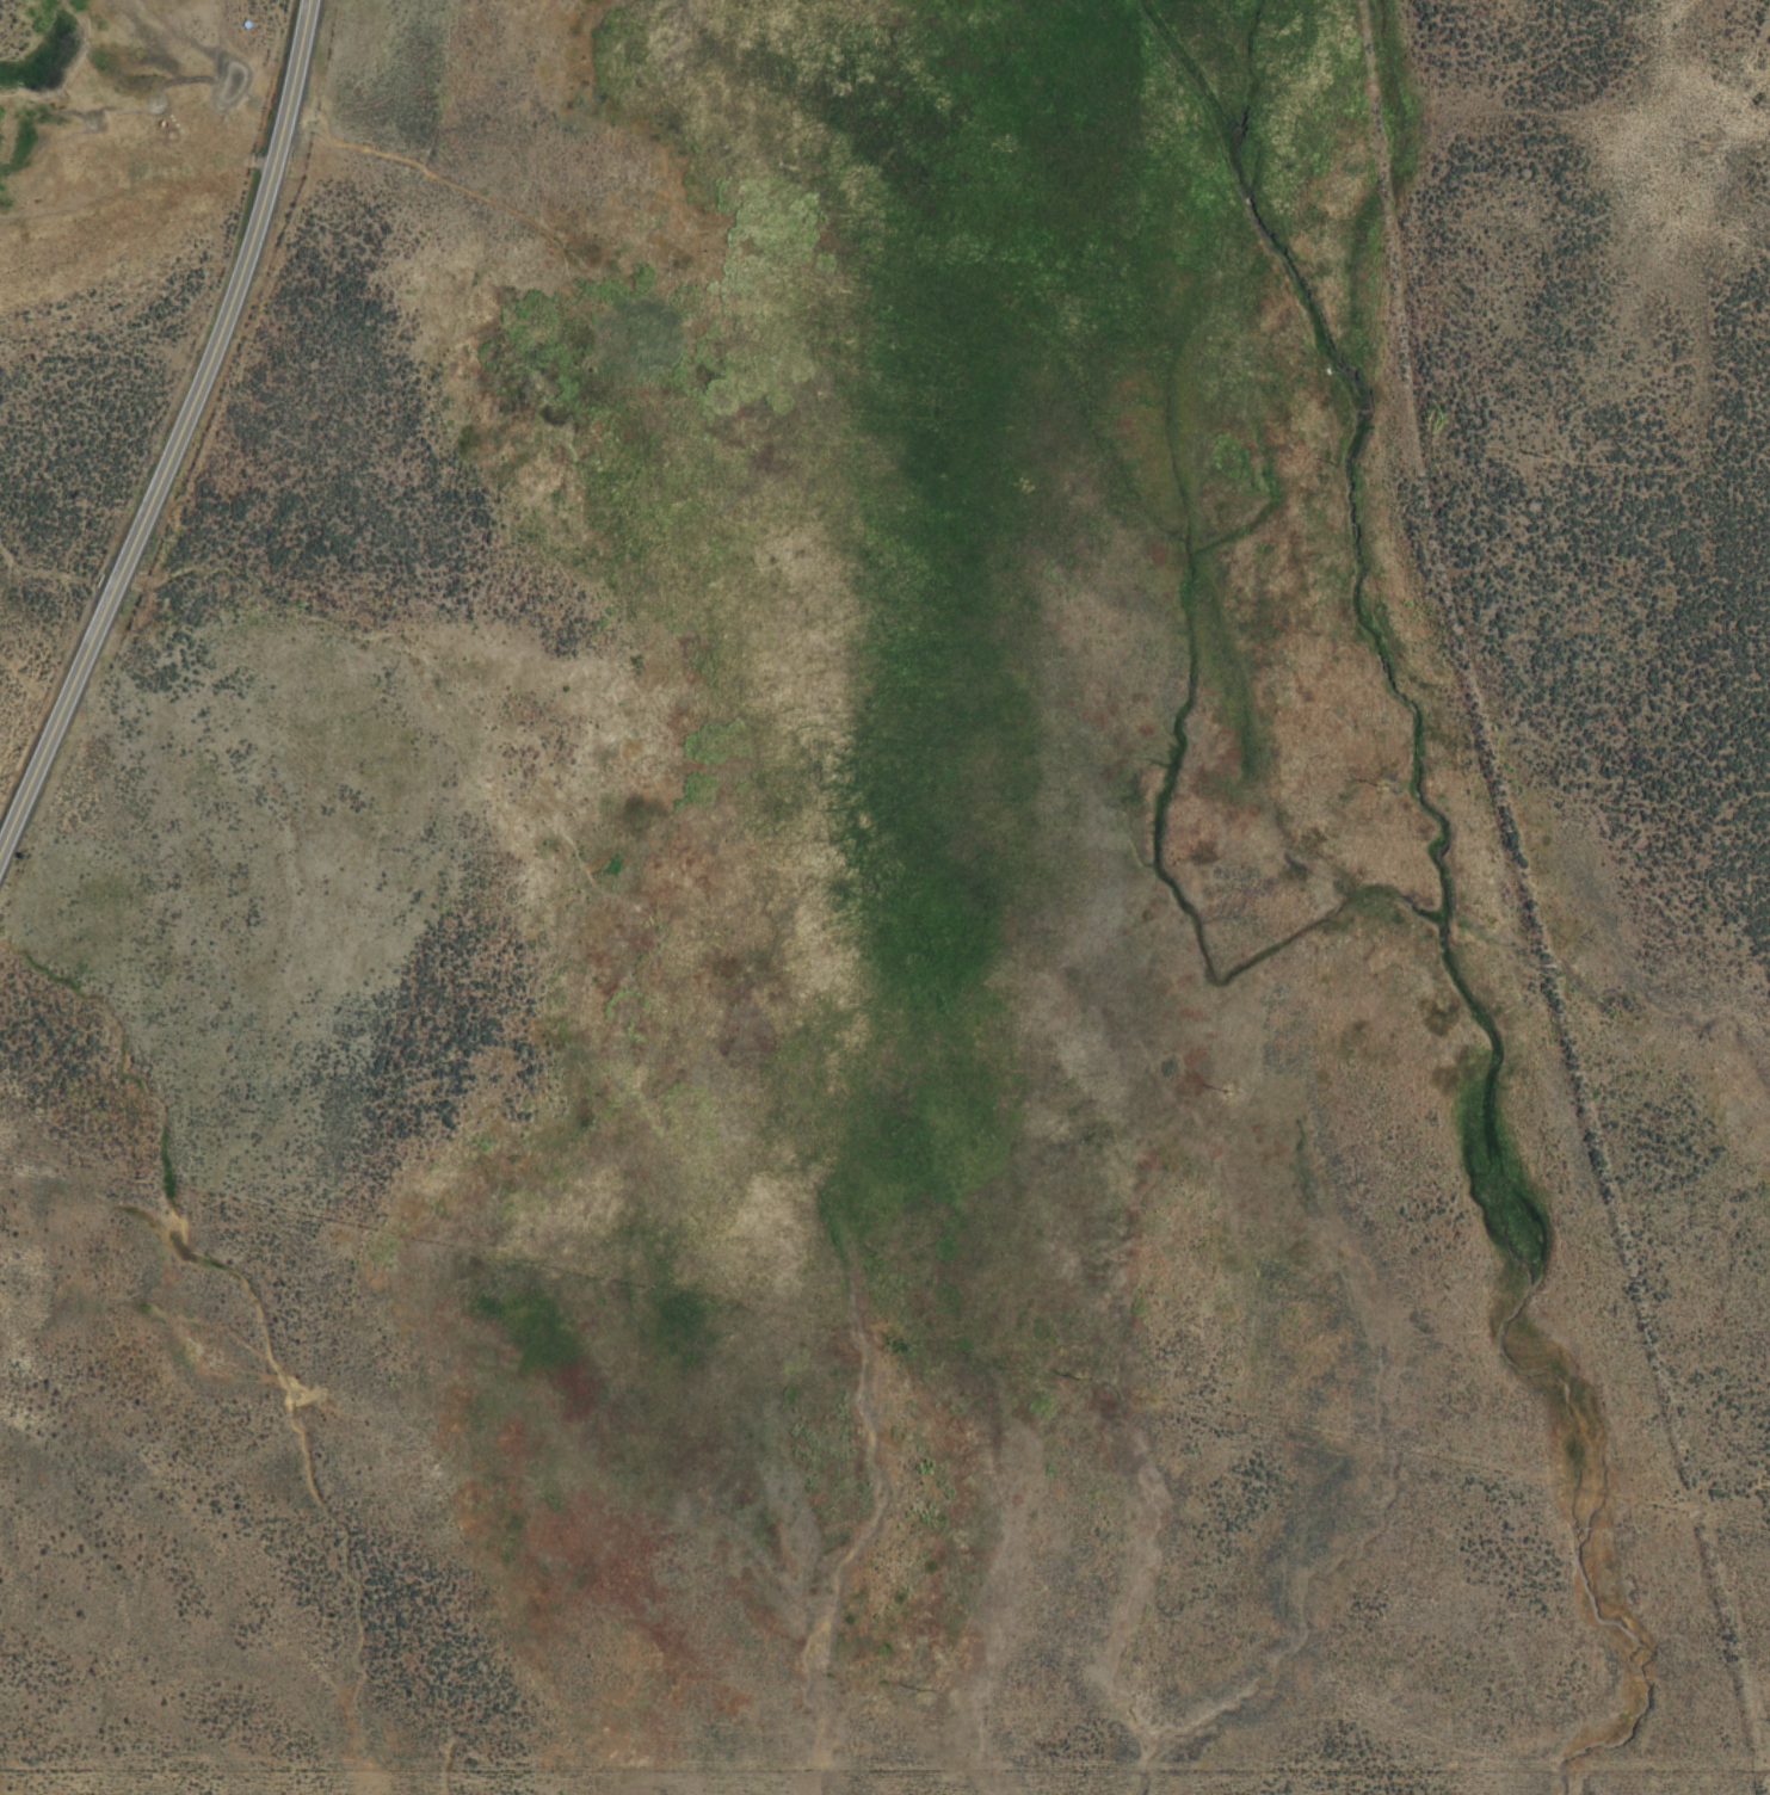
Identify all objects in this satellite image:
road: (147, 390)
crop: (921, 914)

